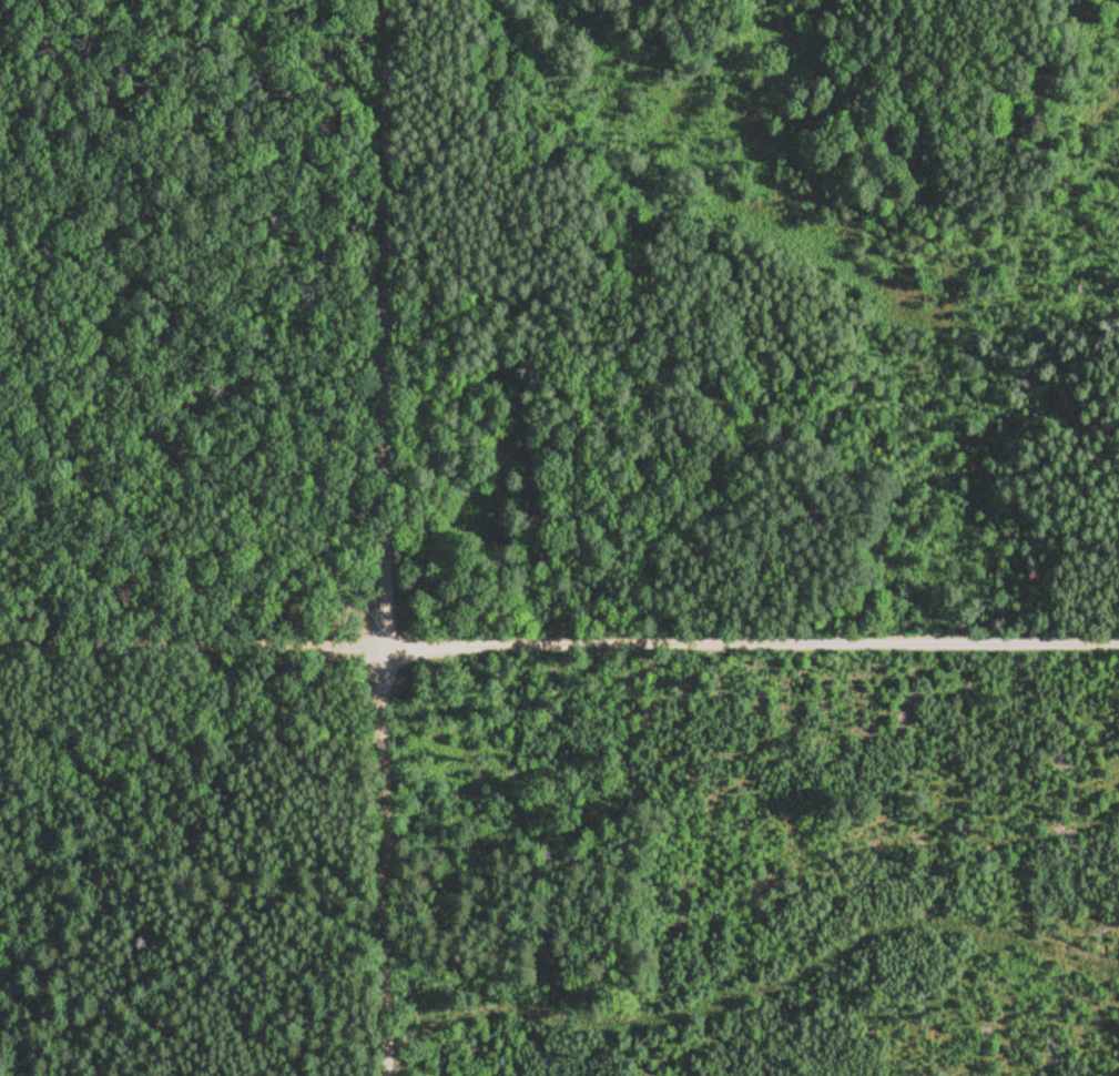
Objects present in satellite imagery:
road: (384, 324)
road: (751, 644)
road: (191, 648)
road: (384, 862)

